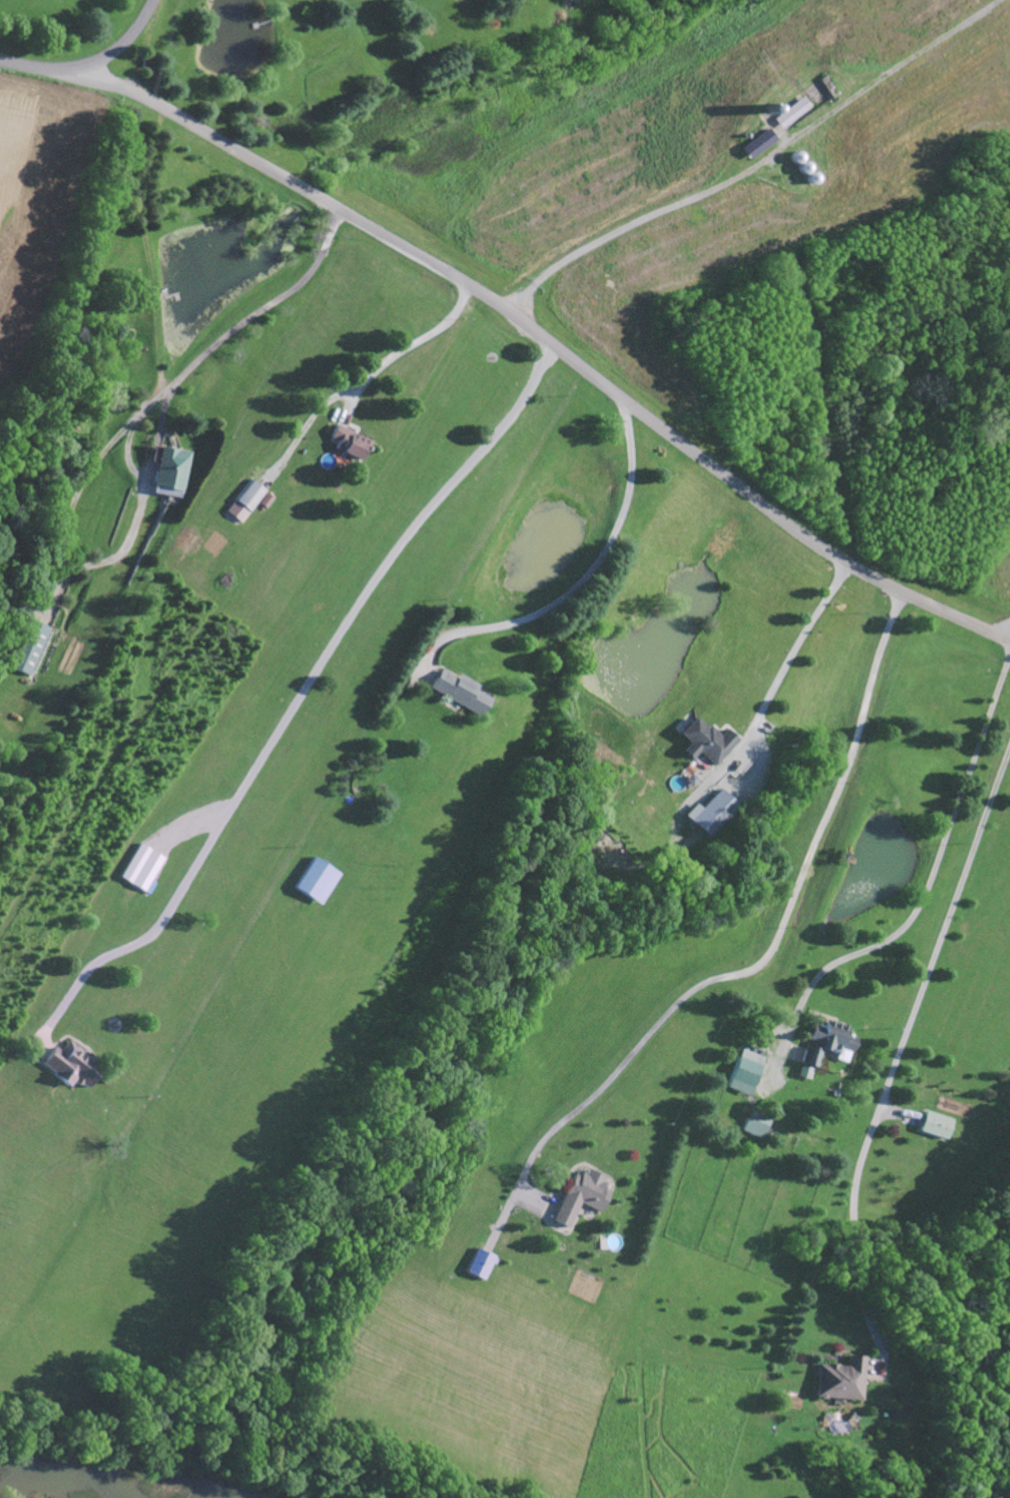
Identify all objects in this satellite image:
road: (90, 63)
building: (757, 145)
road: (755, 164)
road: (472, 286)
road: (261, 309)
road: (410, 346)
road: (160, 373)
building: (349, 444)
building: (170, 472)
building: (249, 497)
road: (583, 573)
road: (928, 604)
road: (1009, 639)
building: (27, 648)
road: (785, 669)
building: (457, 693)
road: (297, 700)
building: (705, 742)
building: (708, 813)
building: (140, 868)
road: (928, 885)
road: (777, 937)
road: (903, 1042)
building: (825, 1047)
building: (745, 1072)
building: (756, 1125)
building: (932, 1126)
building: (581, 1197)
building: (480, 1265)
building: (837, 1381)
river: (102, 1483)

